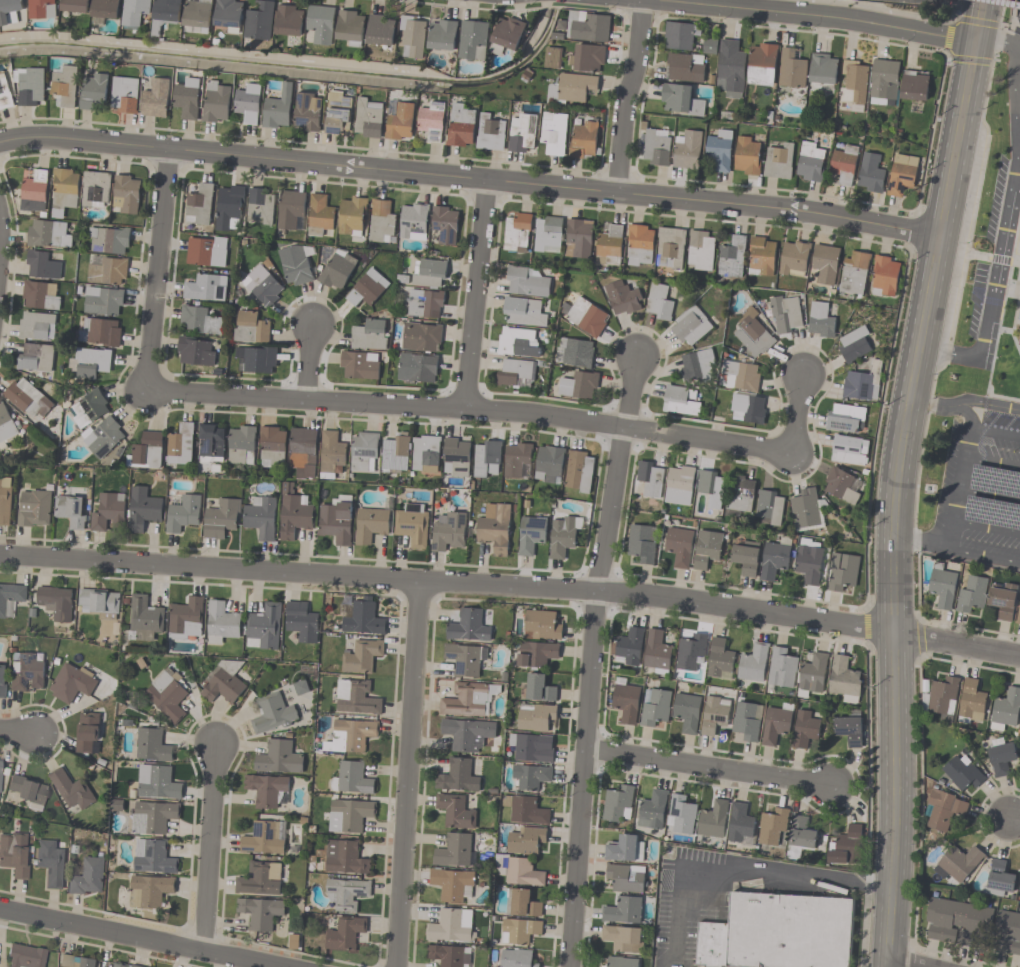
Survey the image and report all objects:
building: (76, 8)
building: (106, 9)
building: (10, 10)
building: (42, 10)
building: (135, 13)
building: (229, 14)
parking lot: (1018, 14)
building: (165, 15)
road: (814, 15)
building: (198, 16)
road: (978, 20)
building: (290, 21)
building: (260, 22)
building: (321, 25)
building: (586, 27)
building: (351, 28)
building: (381, 31)
building: (507, 33)
building: (443, 35)
building: (679, 37)
building: (413, 38)
traffic signals: (975, 40)
building: (473, 41)
road: (997, 41)
building: (552, 58)
building: (587, 58)
building: (762, 65)
building: (685, 68)
building: (731, 69)
building: (823, 69)
building: (792, 70)
building: (884, 80)
building: (854, 82)
building: (65, 86)
building: (914, 87)
building: (30, 88)
building: (572, 89)
building: (93, 91)
building: (5, 93)
road: (627, 95)
building: (125, 96)
road: (1017, 97)
building: (156, 99)
building: (188, 99)
building: (681, 101)
building: (217, 102)
building: (249, 103)
building: (279, 110)
road: (1014, 110)
building: (308, 112)
building: (339, 114)
building: (369, 118)
building: (400, 121)
building: (432, 121)
building: (462, 126)
building: (491, 133)
building: (553, 133)
building: (522, 134)
road: (957, 138)
building: (584, 140)
building: (656, 149)
building: (688, 151)
building: (718, 154)
building: (748, 156)
building: (779, 161)
building: (810, 162)
building: (843, 165)
building: (870, 174)
building: (902, 175)
road: (470, 177)
building: (65, 188)
building: (34, 190)
building: (95, 190)
building: (127, 194)
building: (199, 206)
building: (260, 207)
building: (229, 208)
building: (291, 211)
building: (320, 216)
building: (352, 216)
building: (382, 221)
building: (414, 222)
building: (445, 225)
building: (516, 233)
building: (48, 235)
building: (547, 235)
building: (578, 239)
building: (109, 240)
building: (609, 244)
building: (639, 246)
building: (670, 248)
building: (206, 251)
building: (700, 251)
building: (762, 257)
building: (731, 258)
building: (793, 259)
building: (825, 264)
road: (997, 264)
building: (295, 265)
building: (42, 266)
building: (106, 271)
road: (156, 271)
building: (338, 271)
building: (429, 273)
building: (854, 273)
building: (885, 277)
building: (526, 283)
building: (263, 287)
building: (205, 288)
building: (368, 289)
road: (929, 292)
road: (475, 294)
building: (41, 296)
building: (622, 298)
building: (103, 302)
building: (659, 303)
building: (425, 304)
building: (522, 313)
building: (786, 314)
building: (1018, 314)
building: (586, 318)
building: (821, 320)
building: (199, 322)
building: (1019, 324)
building: (37, 326)
building: (691, 327)
building: (251, 328)
building: (100, 332)
building: (370, 335)
building: (754, 336)
building: (421, 338)
building: (1019, 341)
building: (518, 343)
building: (854, 346)
building: (196, 352)
building: (574, 354)
road: (949, 354)
building: (35, 358)
building: (255, 361)
road: (308, 361)
building: (89, 363)
building: (359, 366)
building: (697, 366)
building: (417, 368)
building: (514, 372)
road: (914, 374)
building: (740, 376)
building: (579, 386)
building: (858, 387)
building: (27, 400)
building: (679, 401)
road: (986, 404)
road: (931, 405)
building: (89, 409)
road: (469, 409)
building: (747, 409)
road: (966, 414)
road: (796, 415)
building: (845, 419)
building: (6, 425)
road: (995, 433)
building: (104, 438)
building: (211, 444)
building: (181, 445)
building: (241, 445)
building: (273, 447)
building: (849, 450)
building: (304, 451)
building: (148, 452)
building: (364, 452)
building: (332, 454)
building: (396, 454)
building: (426, 455)
building: (457, 457)
building: (487, 459)
building: (517, 461)
road: (992, 464)
building: (549, 465)
building: (579, 472)
building: (650, 478)
building: (679, 485)
building: (841, 486)
road: (959, 486)
building: (711, 488)
parking lot: (980, 489)
building: (741, 495)
road: (989, 495)
building: (5, 501)
building: (769, 508)
building: (803, 508)
building: (34, 509)
building: (143, 509)
building: (71, 511)
building: (295, 511)
building: (108, 512)
building: (183, 513)
road: (894, 516)
building: (261, 518)
building: (221, 519)
building: (337, 520)
building: (371, 525)
building: (413, 525)
road: (986, 527)
building: (495, 530)
building: (448, 532)
building: (531, 535)
building: (562, 536)
road: (924, 543)
building: (642, 544)
building: (678, 547)
building: (707, 549)
road: (984, 556)
building: (746, 557)
building: (774, 560)
building: (809, 564)
building: (842, 572)
road: (447, 582)
building: (942, 587)
building: (972, 595)
building: (11, 599)
building: (1003, 600)
building: (99, 601)
building: (56, 602)
building: (1018, 614)
building: (144, 618)
building: (186, 619)
building: (364, 619)
building: (221, 622)
building: (301, 623)
building: (542, 625)
building: (264, 627)
building: (468, 627)
road: (956, 645)
building: (629, 647)
building: (657, 652)
building: (691, 653)
building: (536, 654)
building: (361, 656)
building: (466, 659)
road: (590, 660)
building: (719, 660)
building: (753, 663)
building: (782, 668)
building: (27, 671)
building: (813, 673)
building: (2, 680)
building: (843, 680)
building: (71, 683)
building: (222, 687)
building: (538, 689)
building: (168, 696)
building: (941, 697)
building: (356, 698)
building: (467, 700)
building: (626, 701)
building: (971, 703)
road: (69, 708)
building: (654, 708)
building: (1006, 709)
building: (686, 713)
building: (272, 714)
building: (714, 714)
building: (535, 717)
building: (747, 721)
building: (776, 724)
building: (805, 729)
building: (849, 731)
road: (15, 732)
building: (87, 734)
building: (468, 734)
building: (352, 736)
building: (151, 745)
building: (532, 748)
road: (56, 752)
building: (1001, 757)
building: (279, 758)
road: (705, 766)
building: (962, 773)
building: (0, 774)
road: (405, 774)
building: (531, 776)
building: (457, 777)
building: (354, 778)
building: (158, 783)
building: (71, 790)
building: (268, 791)
building: (29, 792)
road: (921, 795)
road: (893, 800)
building: (618, 805)
building: (526, 810)
building: (652, 810)
building: (455, 811)
building: (945, 811)
building: (680, 815)
building: (350, 816)
building: (153, 818)
building: (712, 819)
road: (1014, 819)
building: (740, 825)
building: (772, 828)
building: (801, 837)
building: (264, 838)
building: (526, 841)
road: (208, 849)
building: (625, 849)
building: (846, 849)
building: (454, 851)
building: (14, 853)
building: (153, 857)
building: (345, 858)
building: (51, 863)
building: (957, 864)
building: (524, 873)
road: (730, 873)
building: (88, 878)
building: (626, 878)
building: (260, 879)
building: (999, 880)
building: (452, 884)
building: (1019, 886)
building: (150, 892)
building: (346, 894)
building: (523, 903)
building: (623, 910)
building: (260, 913)
building: (957, 923)
building: (451, 926)
building: (519, 931)
building: (788, 931)
building: (1006, 932)
building: (345, 934)
road: (142, 938)
building: (623, 939)
building: (712, 944)
building: (449, 956)
building: (27, 957)
building: (515, 958)
building: (76, 962)
building: (622, 962)
road: (906, 962)
building: (117, 966)

